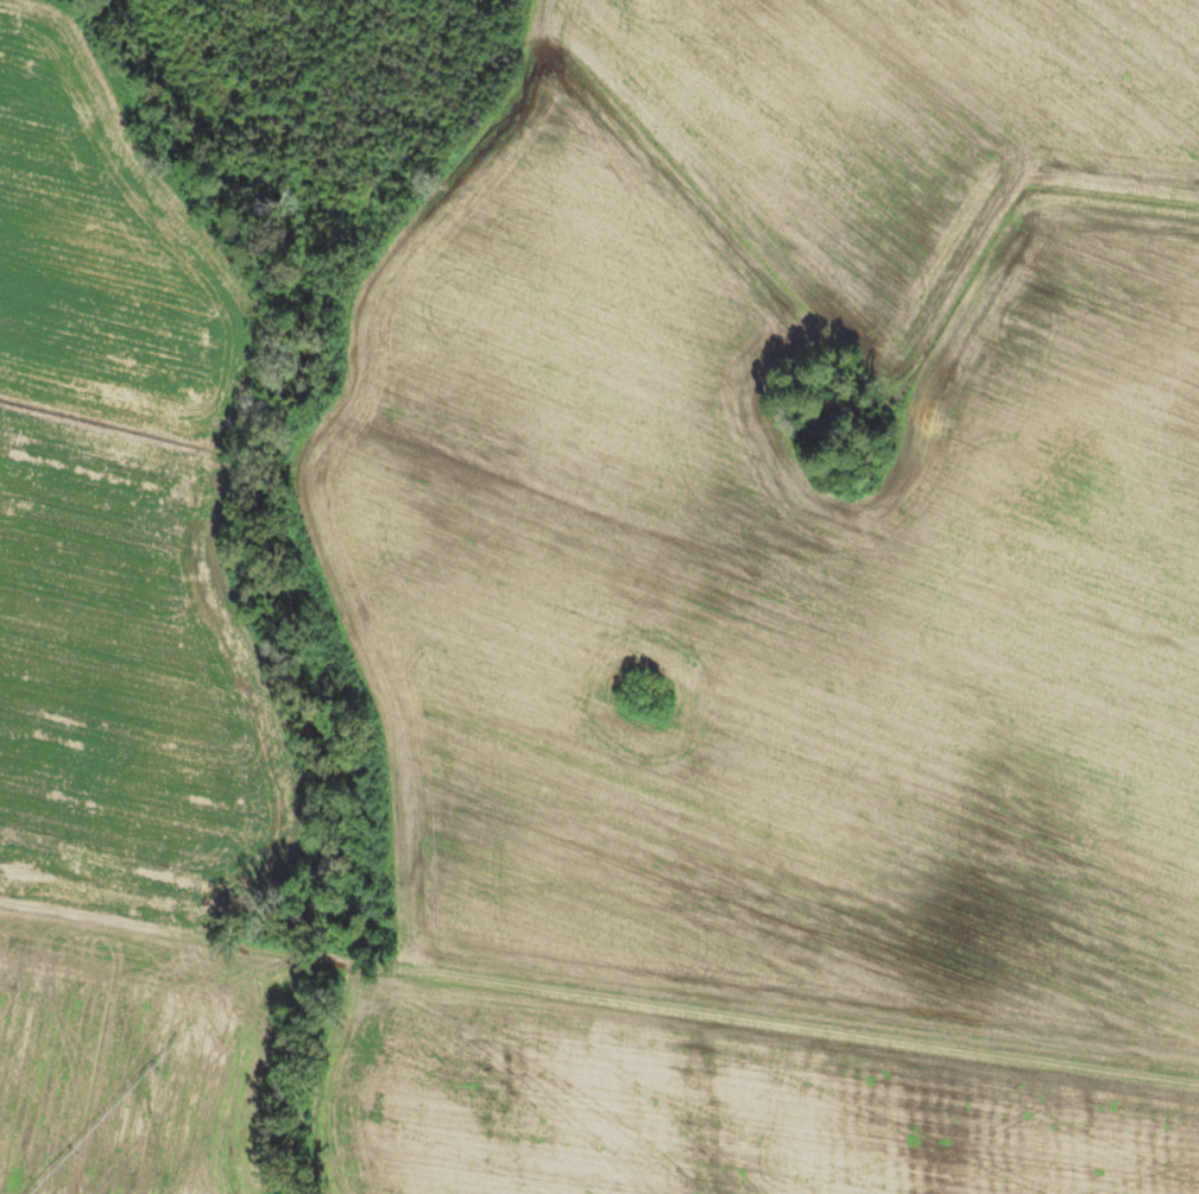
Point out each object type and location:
road: (599, 997)

